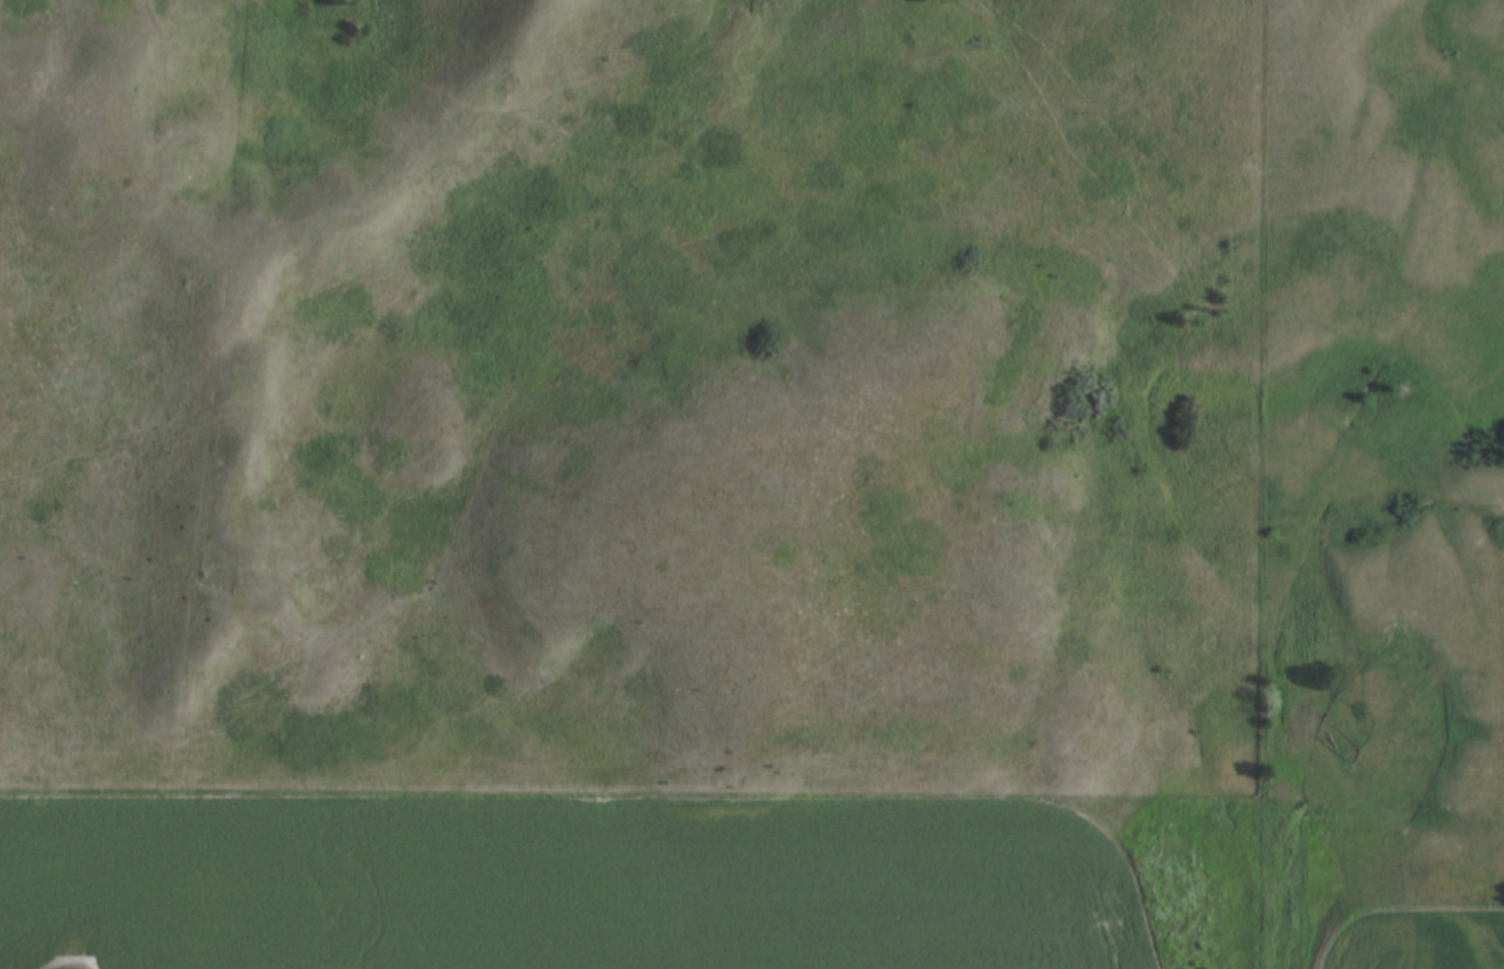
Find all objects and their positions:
road: (1477, 792)

